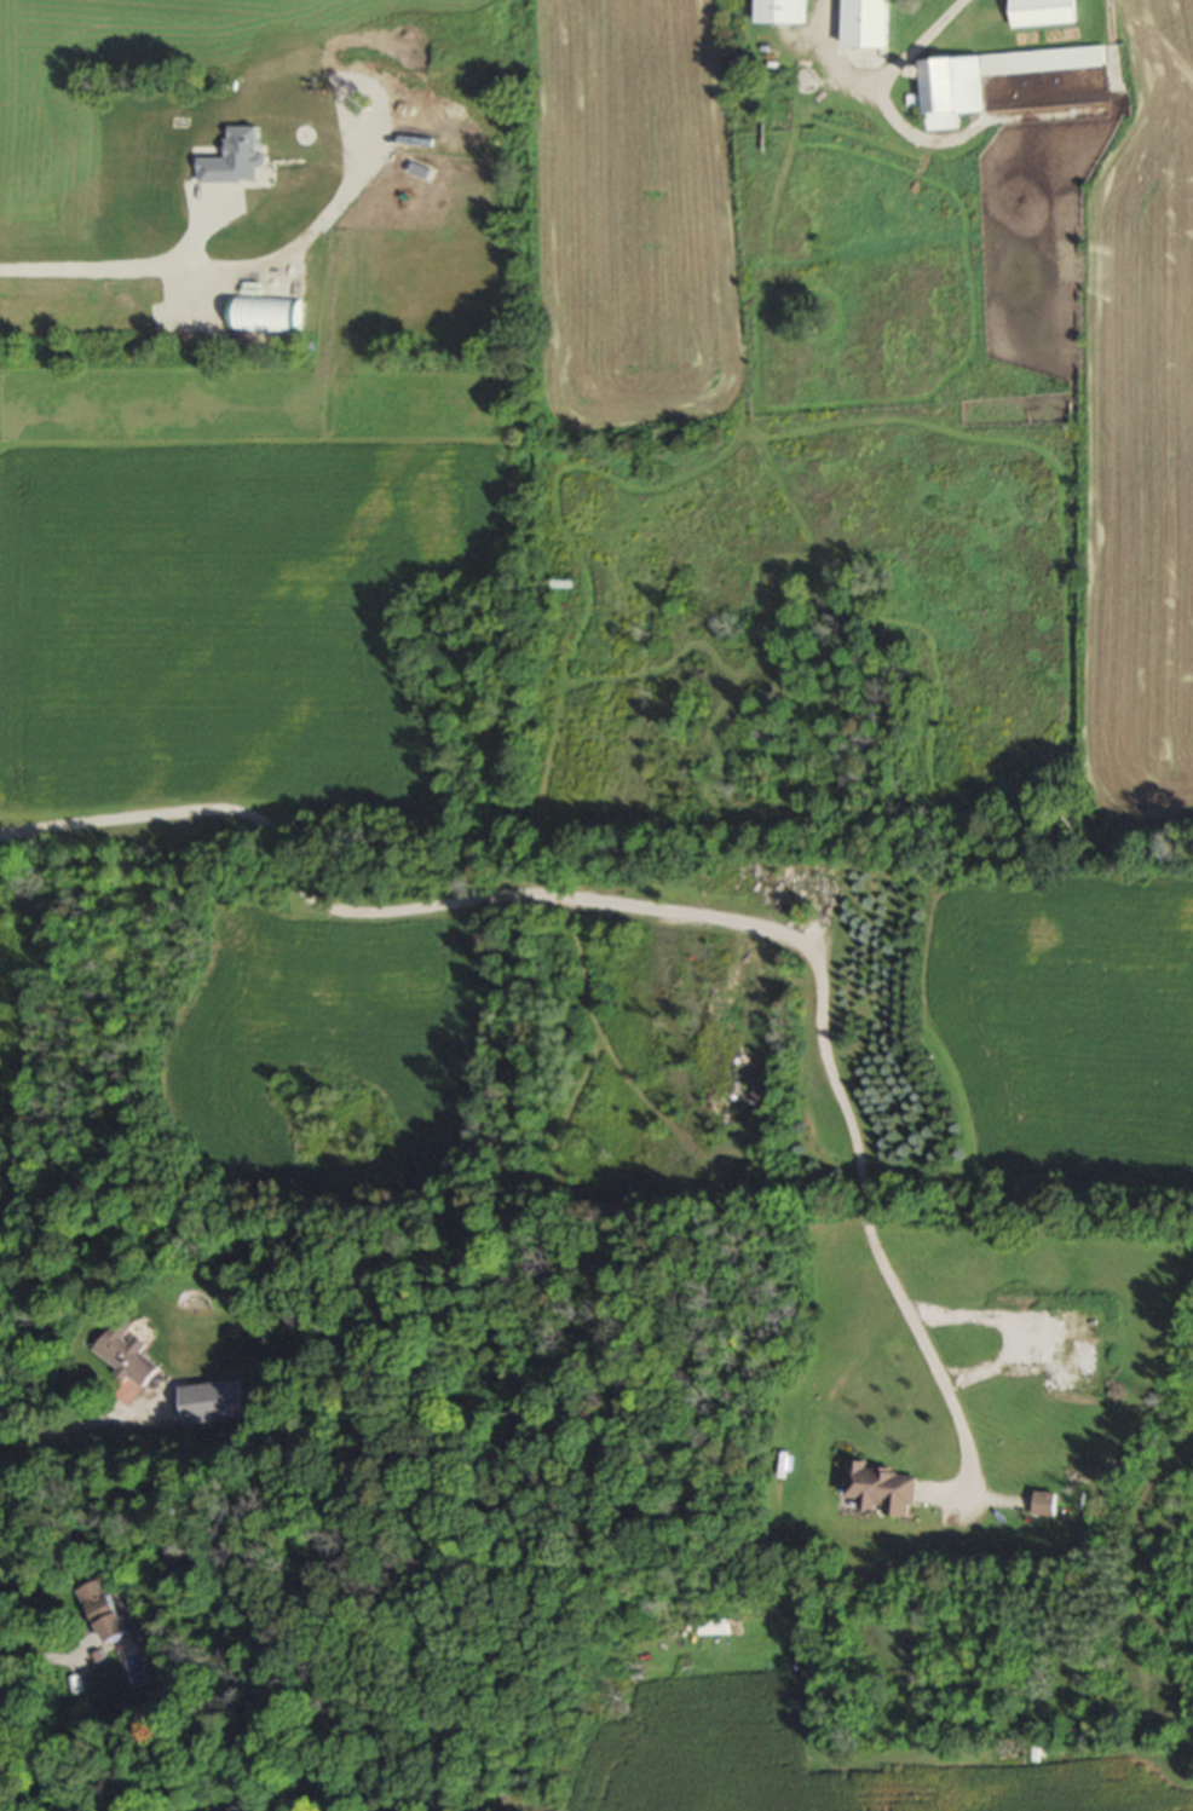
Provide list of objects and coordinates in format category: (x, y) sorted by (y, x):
building: (784, 11)
building: (1043, 11)
building: (872, 23)
road: (880, 77)
building: (955, 91)
building: (553, 582)
road: (673, 910)
building: (125, 1348)
building: (211, 1397)
building: (883, 1486)
building: (1043, 1501)
building: (103, 1609)
building: (710, 1623)

